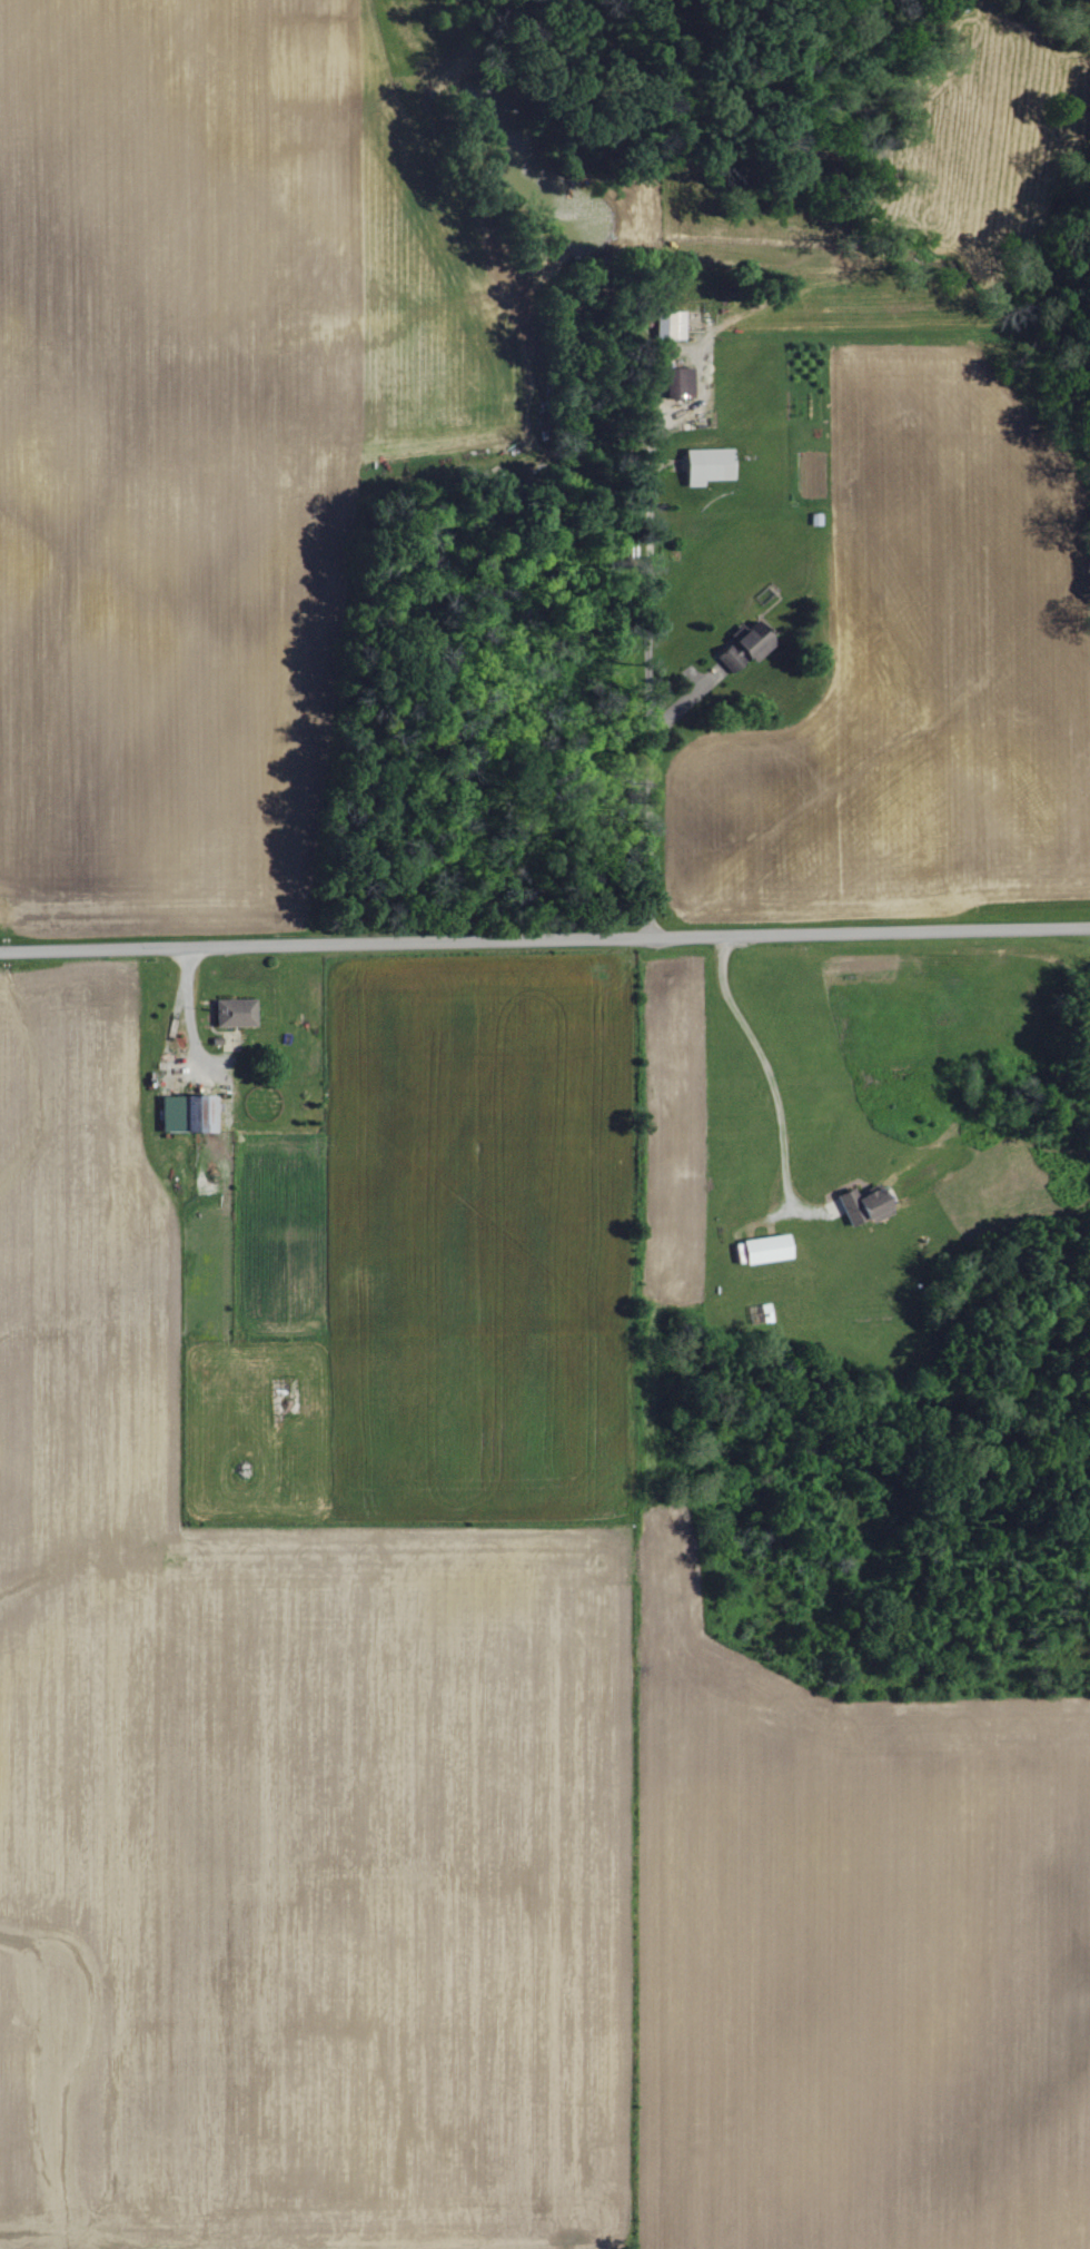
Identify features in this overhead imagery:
building: (664, 326)
building: (675, 382)
building: (703, 465)
building: (741, 649)
road: (645, 689)
road: (545, 945)
building: (230, 1013)
road: (764, 1071)
building: (182, 1113)
building: (757, 1250)

